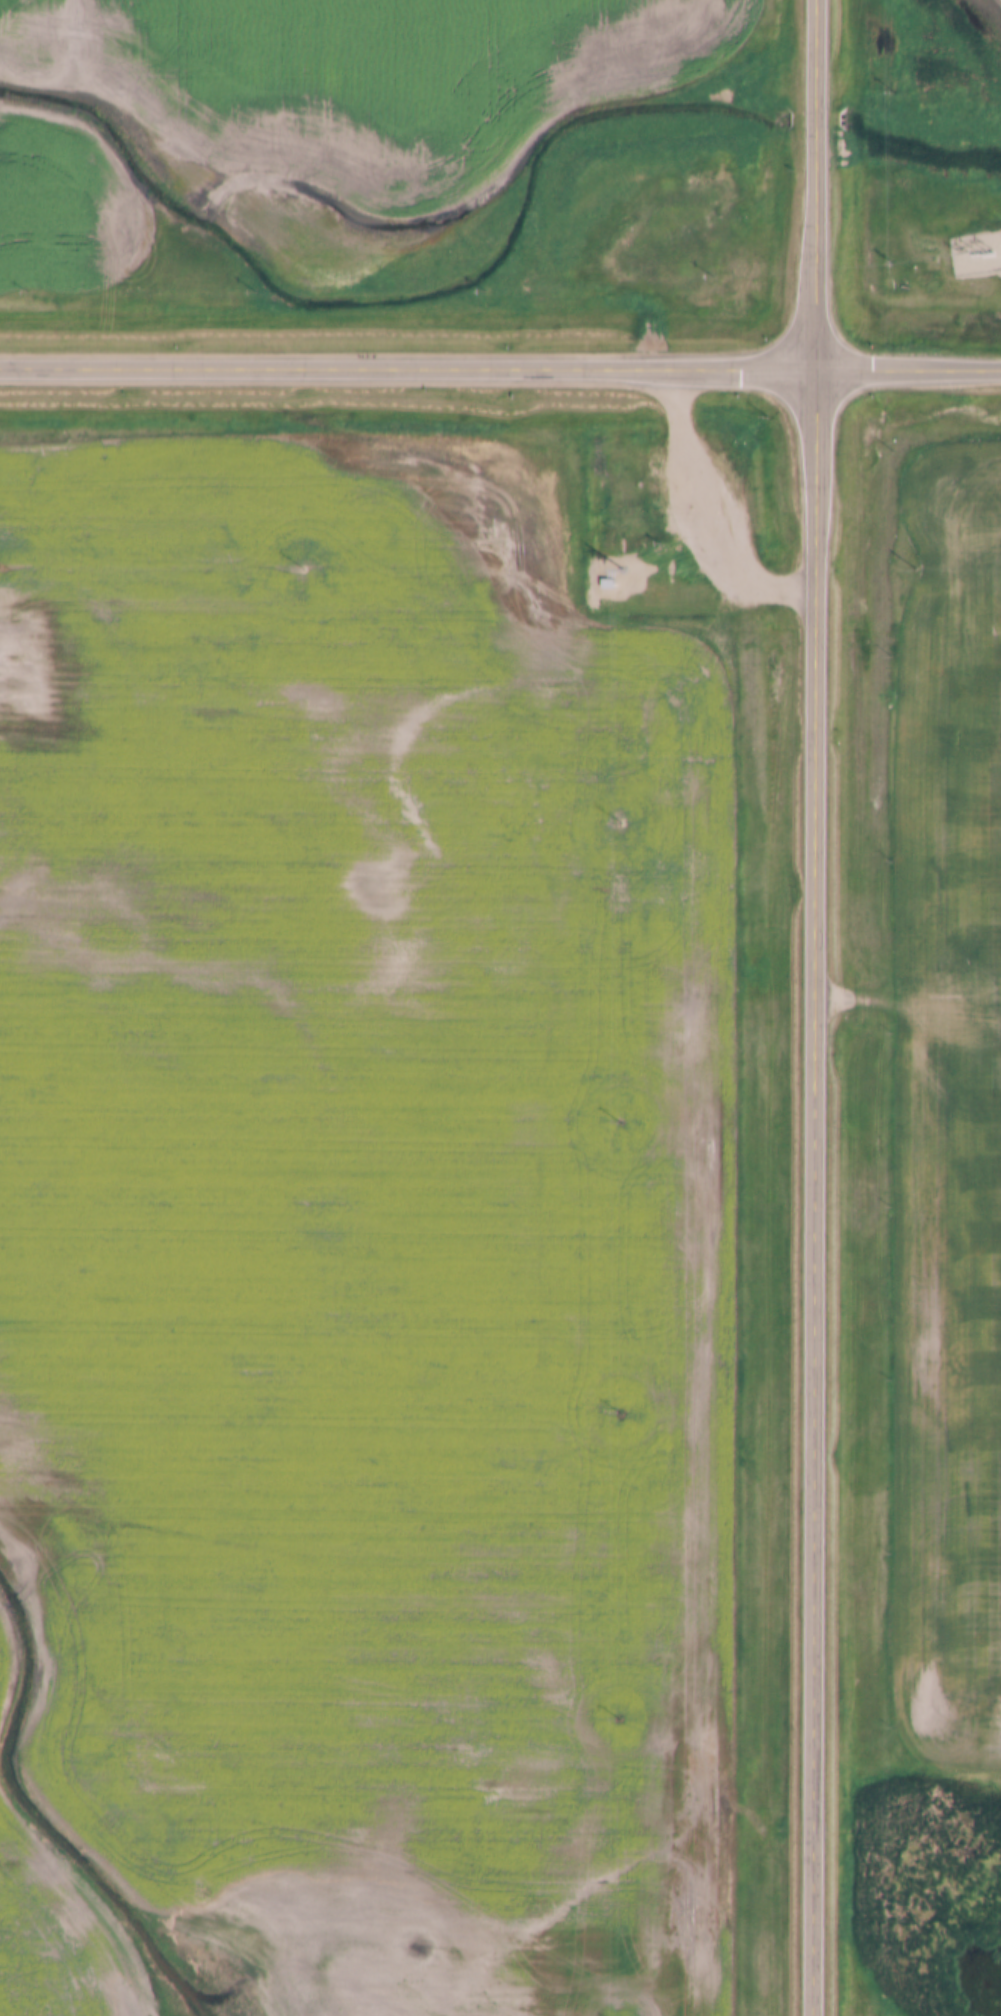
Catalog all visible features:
power substation: (977, 257)
road: (500, 367)
road: (713, 508)
road: (818, 1007)

